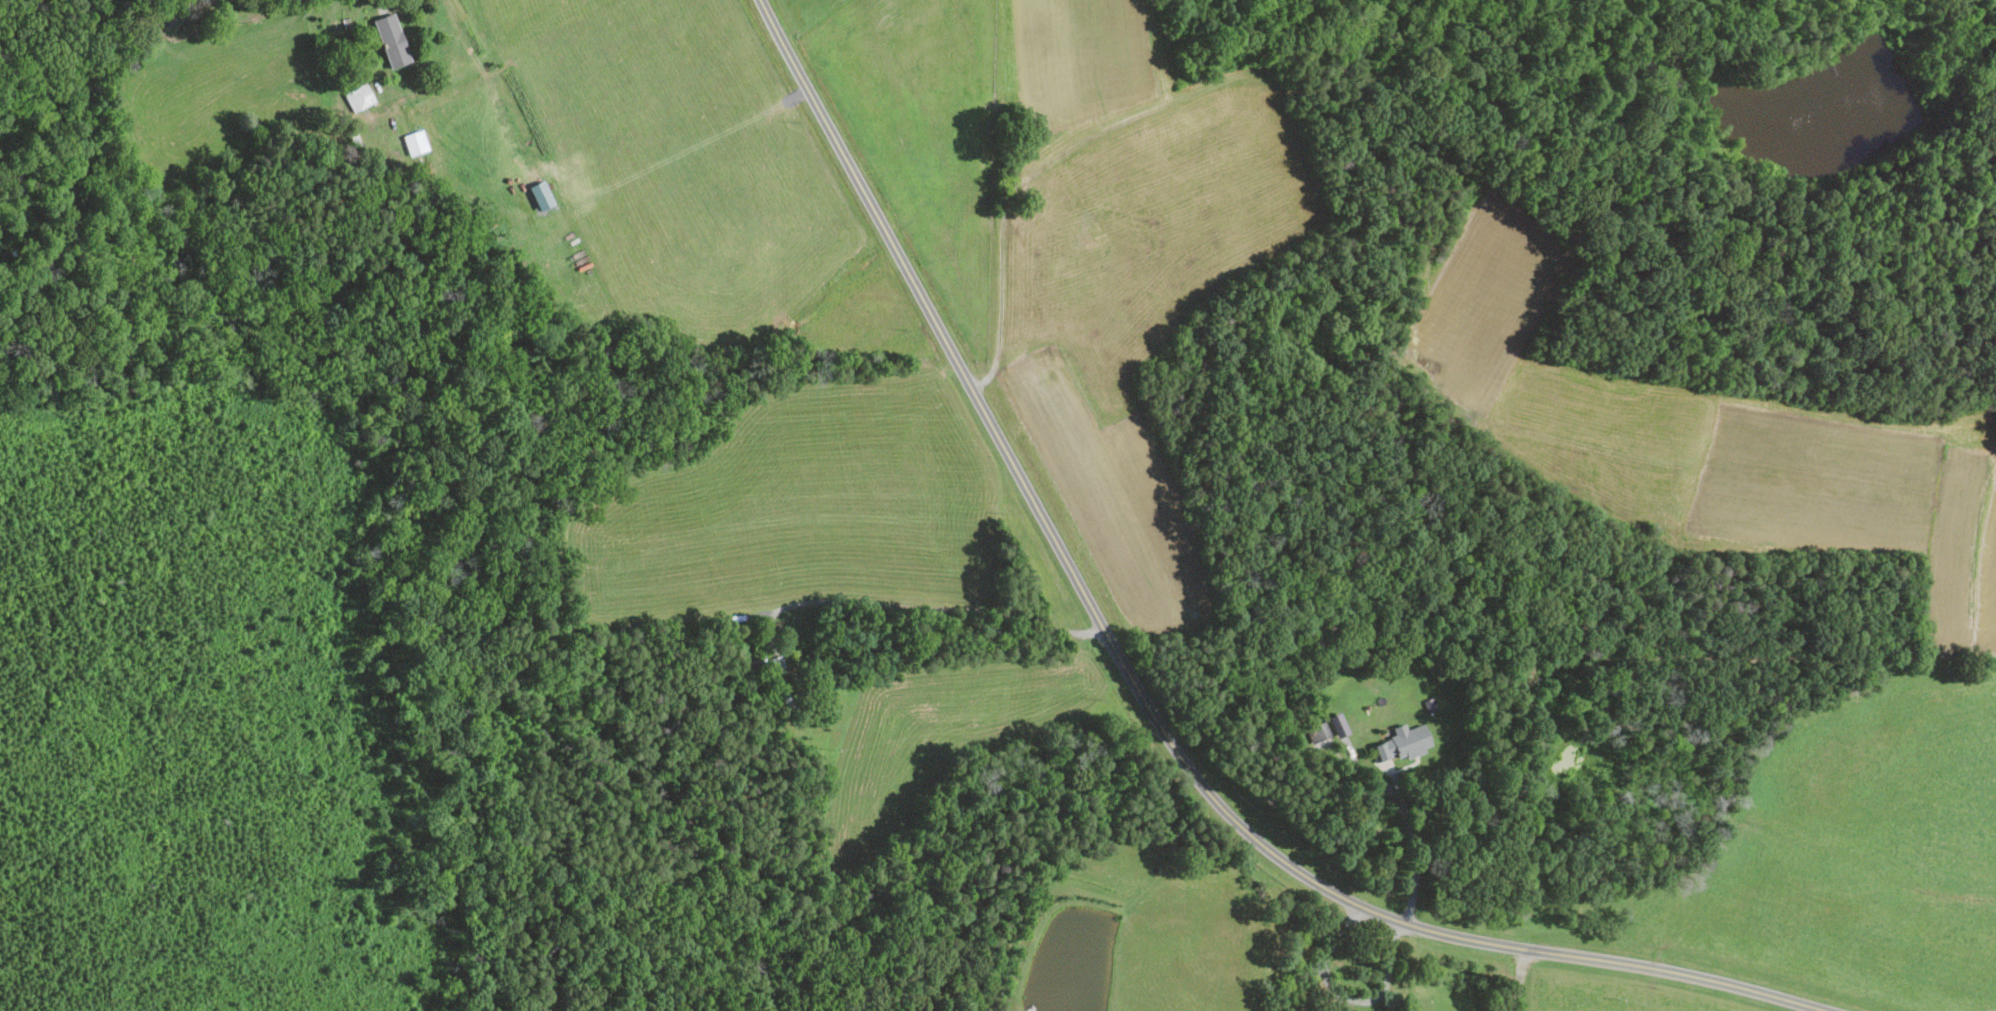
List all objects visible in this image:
building: (390, 40)
road: (925, 607)
road: (1139, 692)
building: (1337, 723)
building: (1318, 730)
building: (1402, 742)
road: (1364, 774)
road: (1415, 851)
road: (1520, 980)
road: (1294, 986)
road: (1346, 997)

